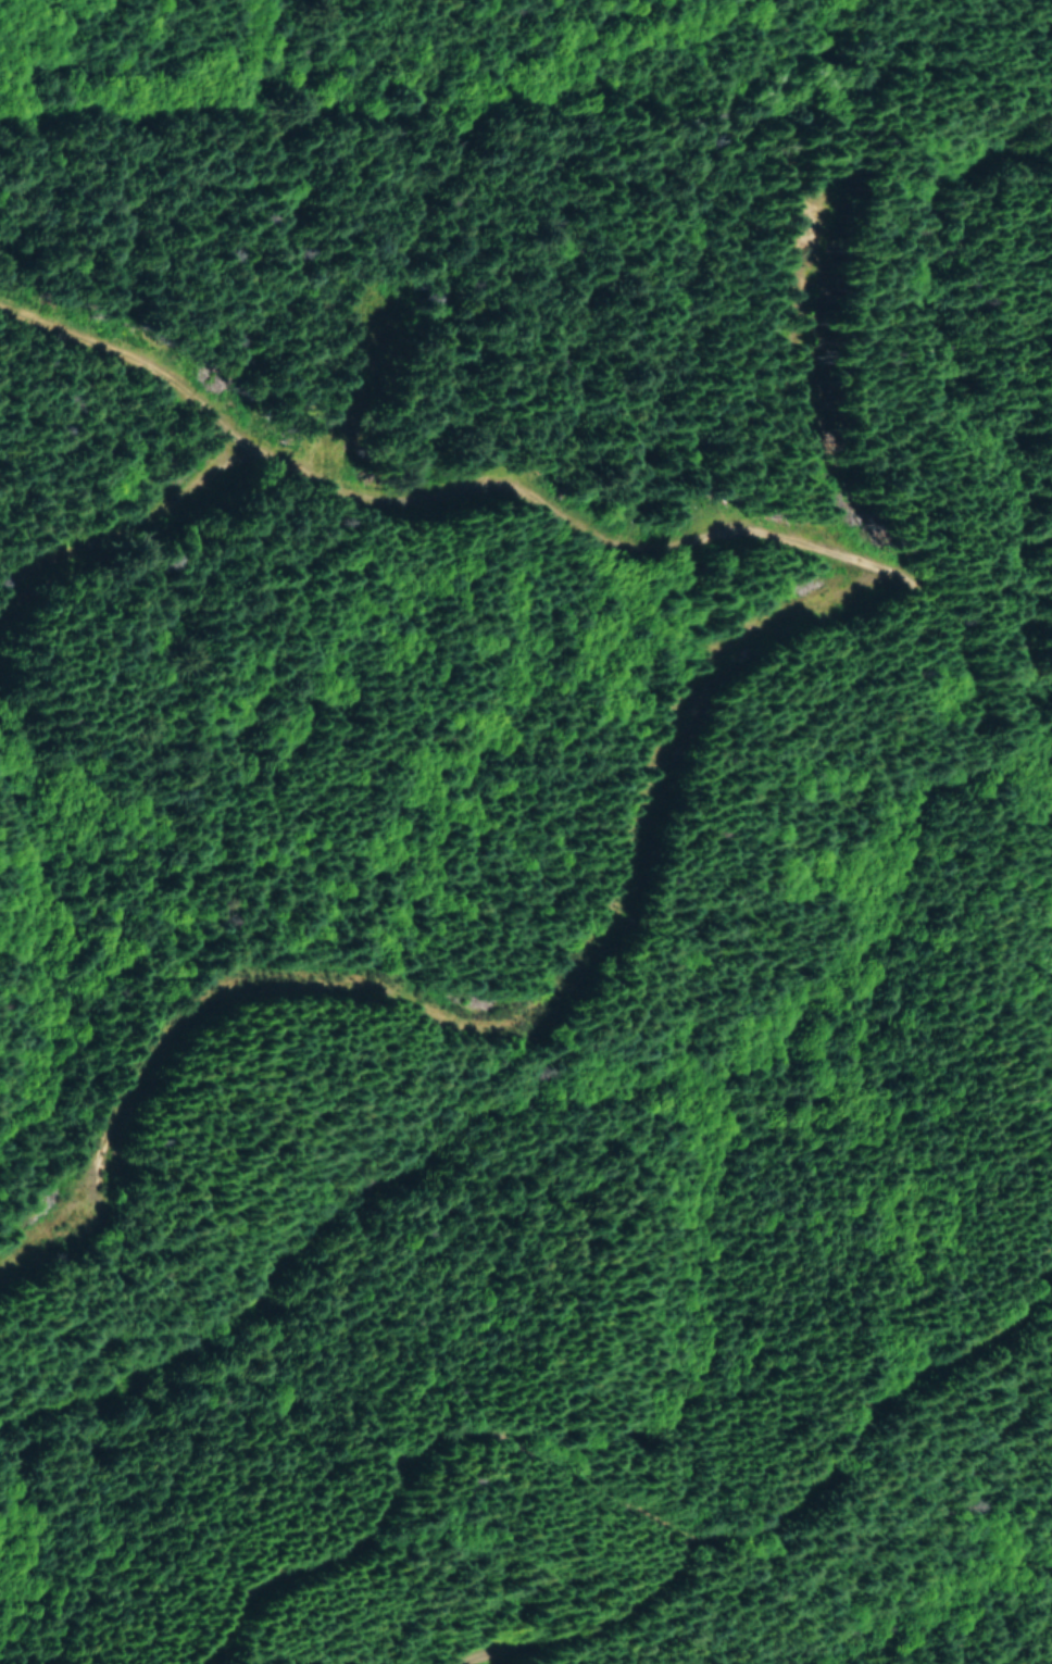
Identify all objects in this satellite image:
road: (579, 521)
road: (360, 1419)
road: (746, 1440)

